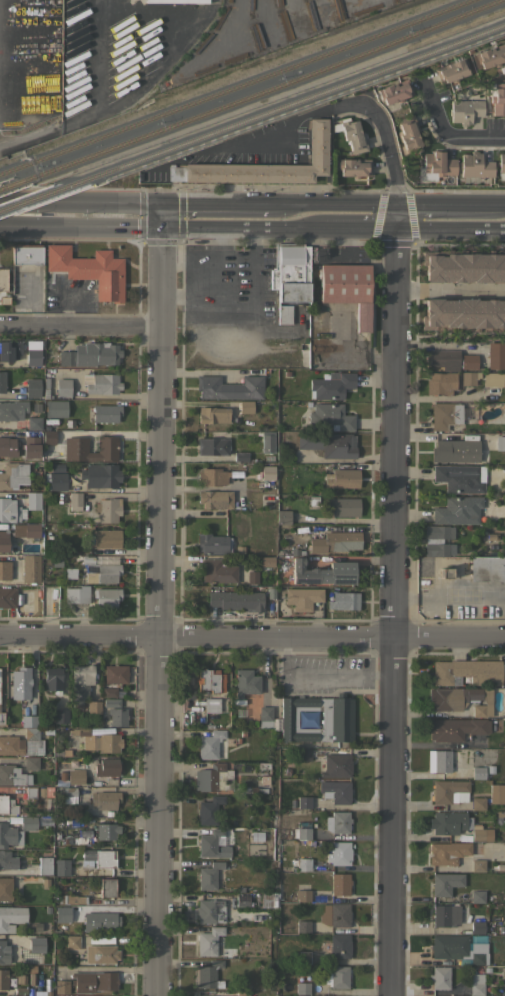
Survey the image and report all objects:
building: (178, 1)
road: (7, 43)
road: (86, 55)
building: (491, 55)
road: (157, 68)
building: (452, 70)
railway: (238, 87)
building: (395, 91)
railway: (262, 93)
building: (497, 97)
railway: (287, 101)
building: (464, 109)
road: (43, 131)
building: (408, 132)
road: (442, 132)
building: (353, 136)
building: (262, 165)
building: (437, 165)
building: (501, 166)
building: (354, 167)
building: (474, 167)
railway: (9, 186)
railway: (34, 196)
road: (81, 204)
road: (360, 204)
road: (305, 205)
road: (445, 205)
road: (501, 205)
road: (223, 206)
road: (163, 216)
road: (81, 226)
road: (359, 226)
road: (449, 226)
road: (191, 227)
road: (272, 227)
building: (27, 253)
building: (464, 265)
building: (89, 269)
building: (290, 271)
building: (3, 279)
building: (347, 289)
road: (448, 289)
building: (4, 300)
building: (284, 314)
building: (464, 314)
road: (237, 316)
road: (81, 324)
building: (9, 350)
building: (90, 354)
building: (496, 355)
building: (33, 357)
building: (443, 358)
building: (468, 361)
building: (470, 378)
building: (493, 379)
building: (2, 381)
building: (441, 383)
building: (103, 384)
building: (330, 385)
building: (33, 387)
building: (229, 387)
building: (63, 388)
building: (246, 406)
building: (35, 407)
building: (55, 408)
building: (12, 409)
building: (103, 413)
building: (213, 414)
building: (332, 415)
building: (445, 415)
building: (34, 423)
building: (27, 434)
building: (48, 437)
building: (267, 443)
building: (329, 443)
building: (500, 443)
building: (7, 446)
building: (212, 446)
building: (105, 448)
building: (455, 450)
building: (31, 451)
road: (390, 468)
building: (267, 472)
building: (13, 475)
building: (100, 475)
building: (218, 476)
building: (458, 477)
building: (55, 478)
building: (341, 478)
building: (215, 498)
building: (33, 500)
building: (75, 500)
building: (343, 506)
building: (108, 509)
building: (10, 510)
building: (458, 510)
building: (283, 516)
building: (26, 529)
building: (489, 536)
building: (106, 537)
building: (437, 539)
building: (4, 540)
building: (335, 541)
building: (213, 544)
building: (266, 561)
building: (31, 568)
building: (101, 568)
building: (486, 568)
building: (4, 569)
building: (218, 571)
building: (323, 572)
building: (443, 573)
building: (252, 577)
building: (76, 594)
building: (106, 596)
road: (449, 596)
building: (8, 597)
building: (303, 597)
building: (236, 600)
building: (344, 600)
road: (161, 611)
road: (252, 636)
building: (467, 672)
building: (115, 673)
building: (52, 678)
building: (210, 680)
building: (20, 682)
building: (246, 682)
building: (80, 683)
building: (109, 692)
building: (462, 699)
building: (111, 702)
building: (212, 705)
building: (93, 707)
building: (60, 715)
building: (117, 716)
building: (265, 716)
building: (2, 718)
building: (317, 718)
building: (29, 720)
building: (456, 728)
building: (97, 740)
building: (23, 742)
building: (209, 744)
building: (63, 753)
building: (304, 753)
building: (443, 760)
building: (31, 763)
building: (336, 765)
building: (108, 767)
building: (478, 772)
building: (13, 775)
building: (61, 775)
building: (76, 776)
building: (213, 778)
building: (335, 791)
building: (449, 791)
building: (29, 792)
building: (496, 793)
building: (69, 795)
building: (104, 799)
building: (303, 802)
building: (478, 803)
building: (7, 805)
building: (209, 810)
building: (499, 814)
building: (338, 822)
building: (447, 822)
building: (28, 823)
building: (107, 831)
building: (301, 833)
building: (480, 834)
building: (9, 835)
building: (212, 844)
building: (452, 851)
building: (339, 853)
building: (98, 858)
building: (7, 860)
building: (303, 864)
building: (45, 865)
building: (477, 865)
building: (61, 866)
building: (29, 867)
building: (209, 875)
building: (44, 882)
building: (340, 883)
building: (445, 883)
building: (107, 887)
building: (5, 888)
building: (302, 895)
building: (477, 896)
building: (71, 898)
building: (242, 900)
building: (209, 911)
building: (62, 913)
building: (335, 915)
building: (446, 915)
building: (11, 917)
building: (99, 920)
building: (477, 925)
building: (302, 926)
building: (208, 940)
building: (72, 942)
building: (36, 944)
building: (338, 946)
building: (458, 949)
building: (3, 953)
building: (101, 954)
building: (303, 957)
building: (208, 973)
building: (32, 976)
building: (339, 977)
building: (440, 977)
building: (5, 980)
building: (19, 980)
building: (94, 981)
building: (476, 983)
building: (61, 986)
building: (302, 987)
building: (19, 991)
building: (42, 993)
building: (242, 993)
building: (205, 995)
building: (299, 995)

